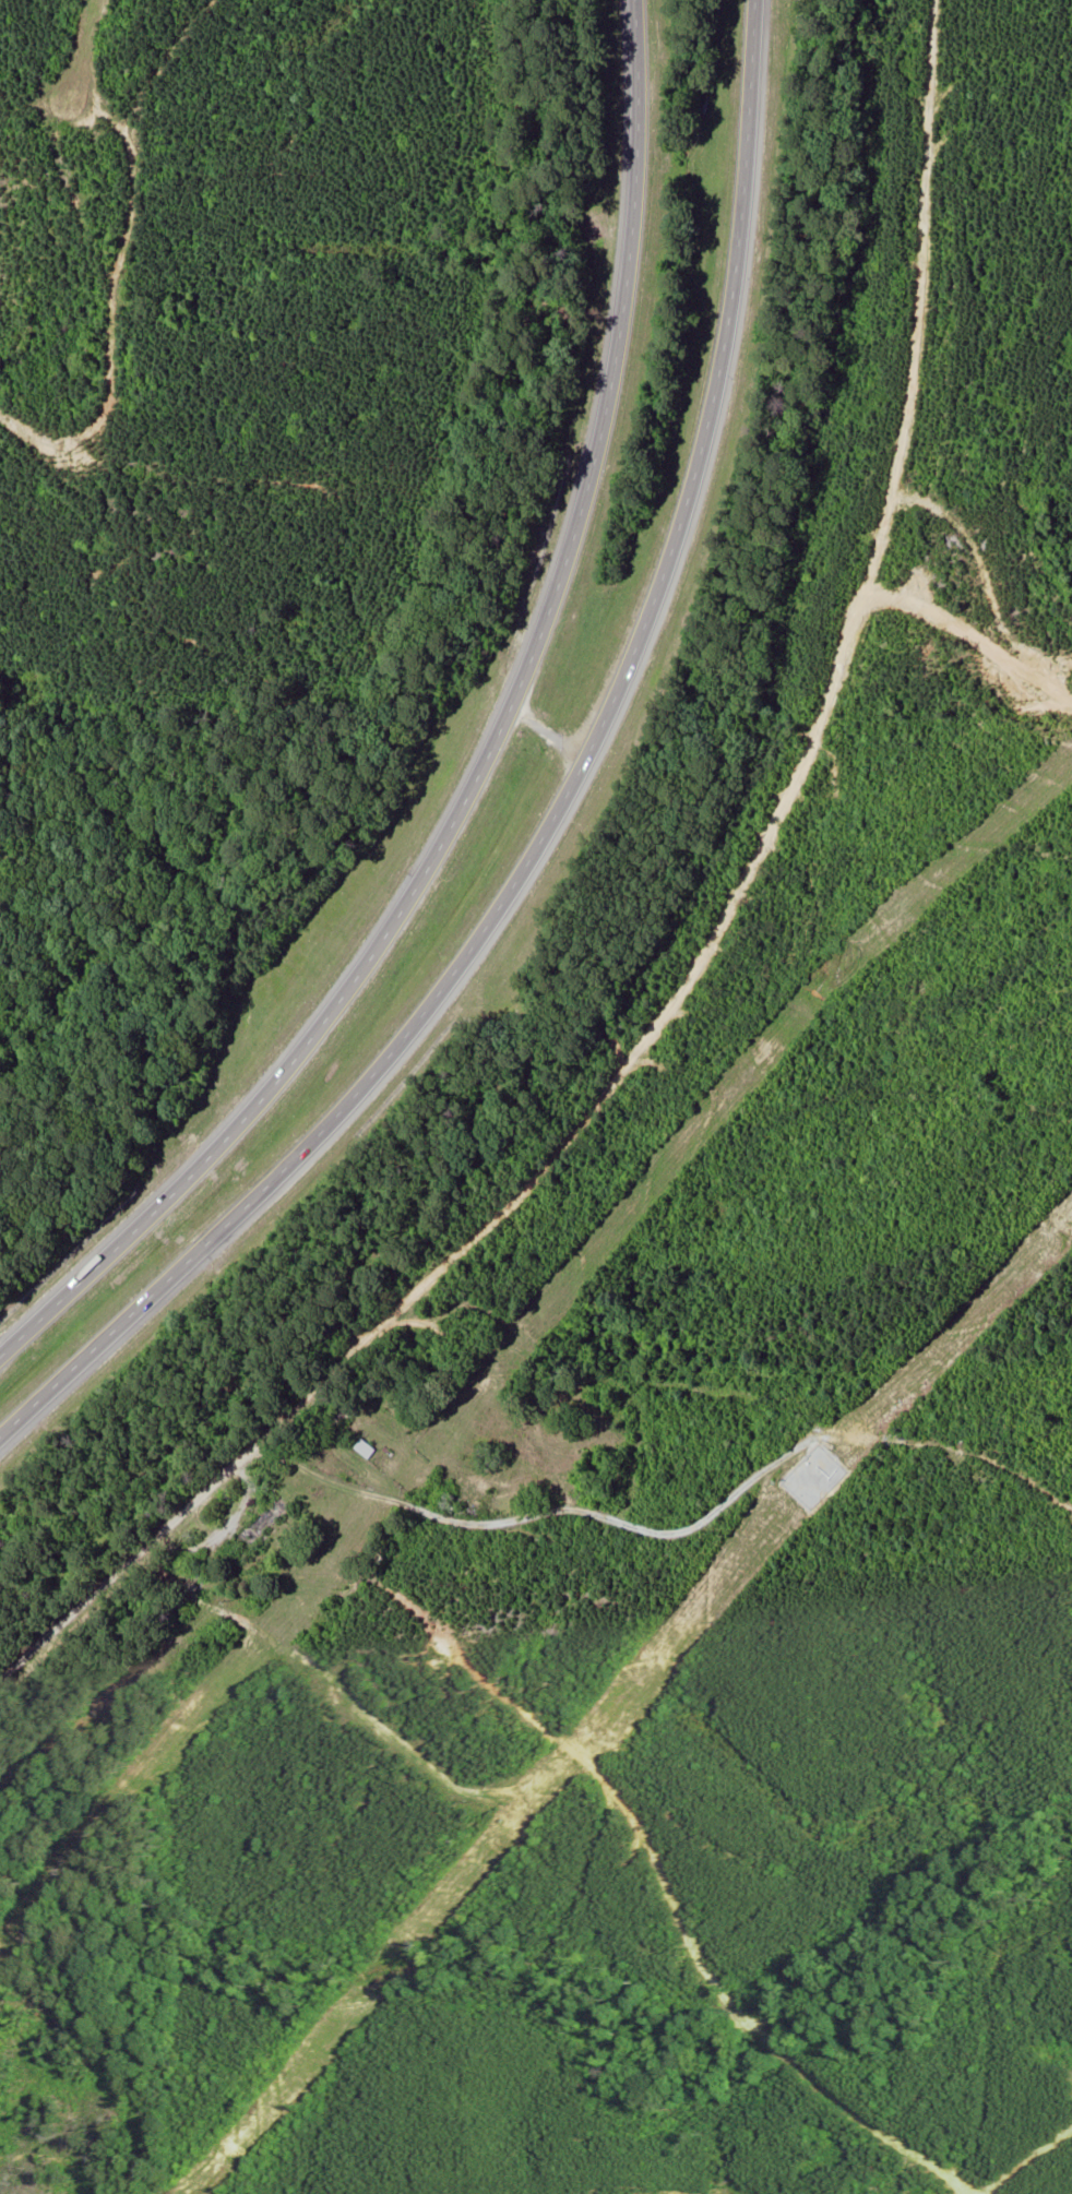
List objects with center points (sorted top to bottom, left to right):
road: (487, 756)
road: (557, 810)
road: (720, 985)
building: (365, 1448)
building: (263, 1524)

